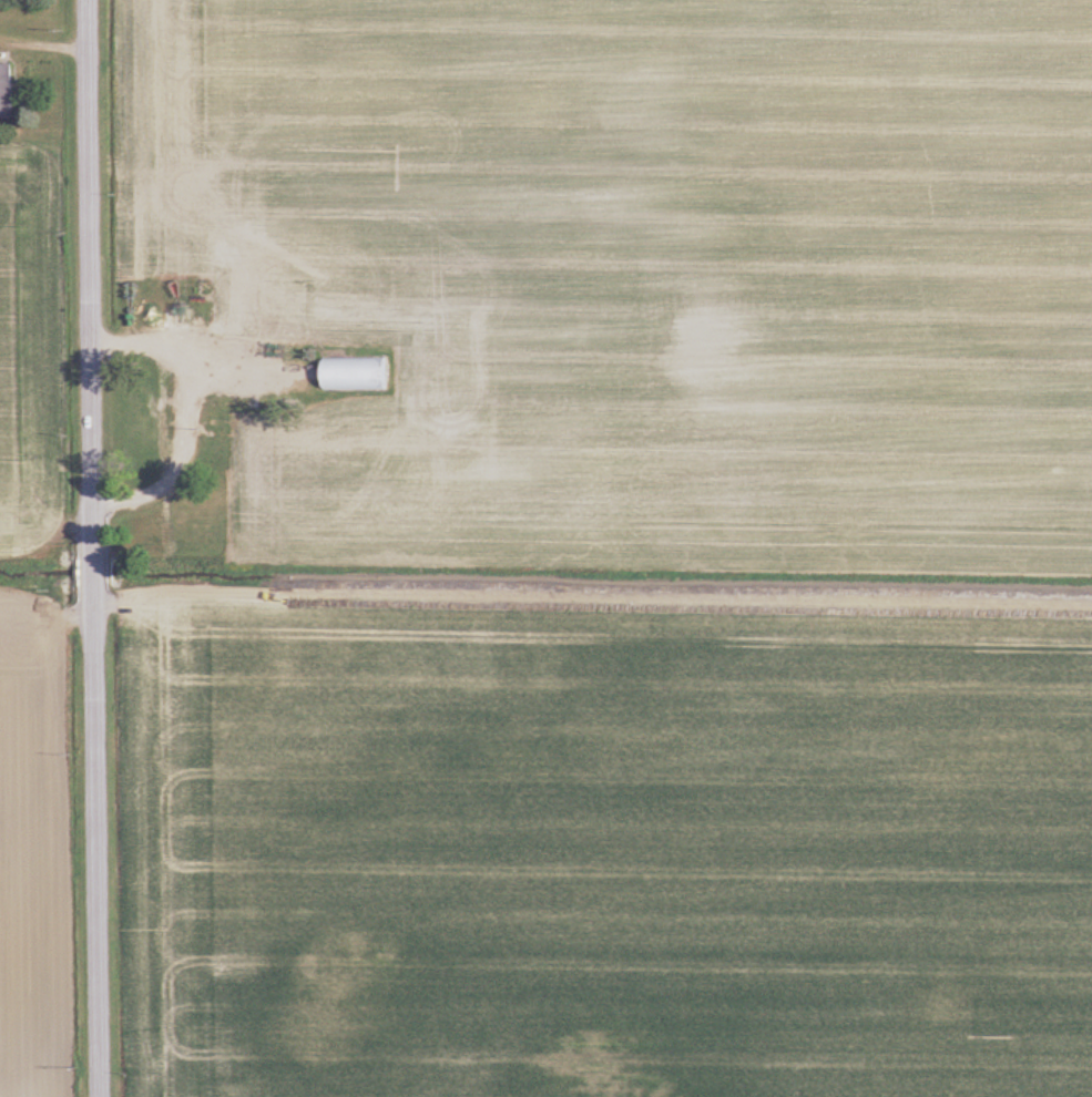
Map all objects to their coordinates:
building: (7, 92)
building: (355, 376)
road: (93, 548)

